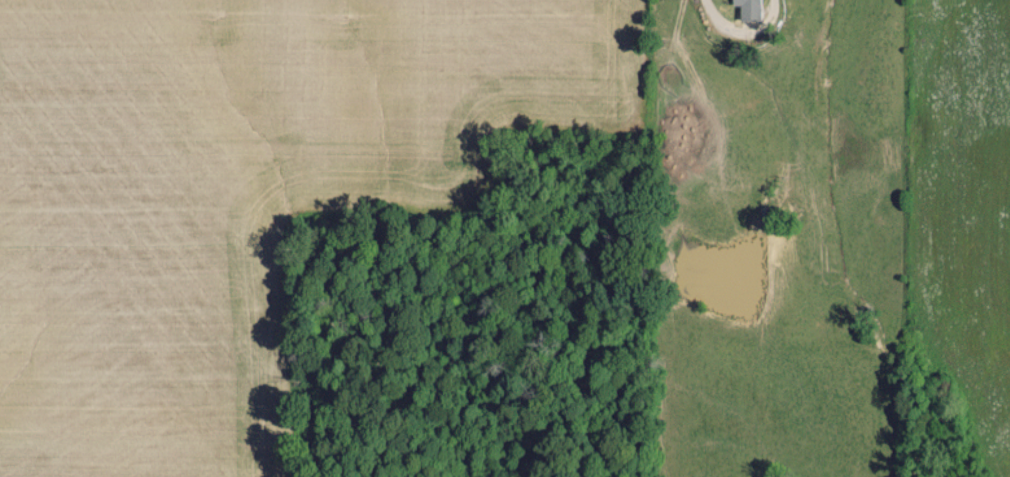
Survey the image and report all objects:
building: (747, 9)

